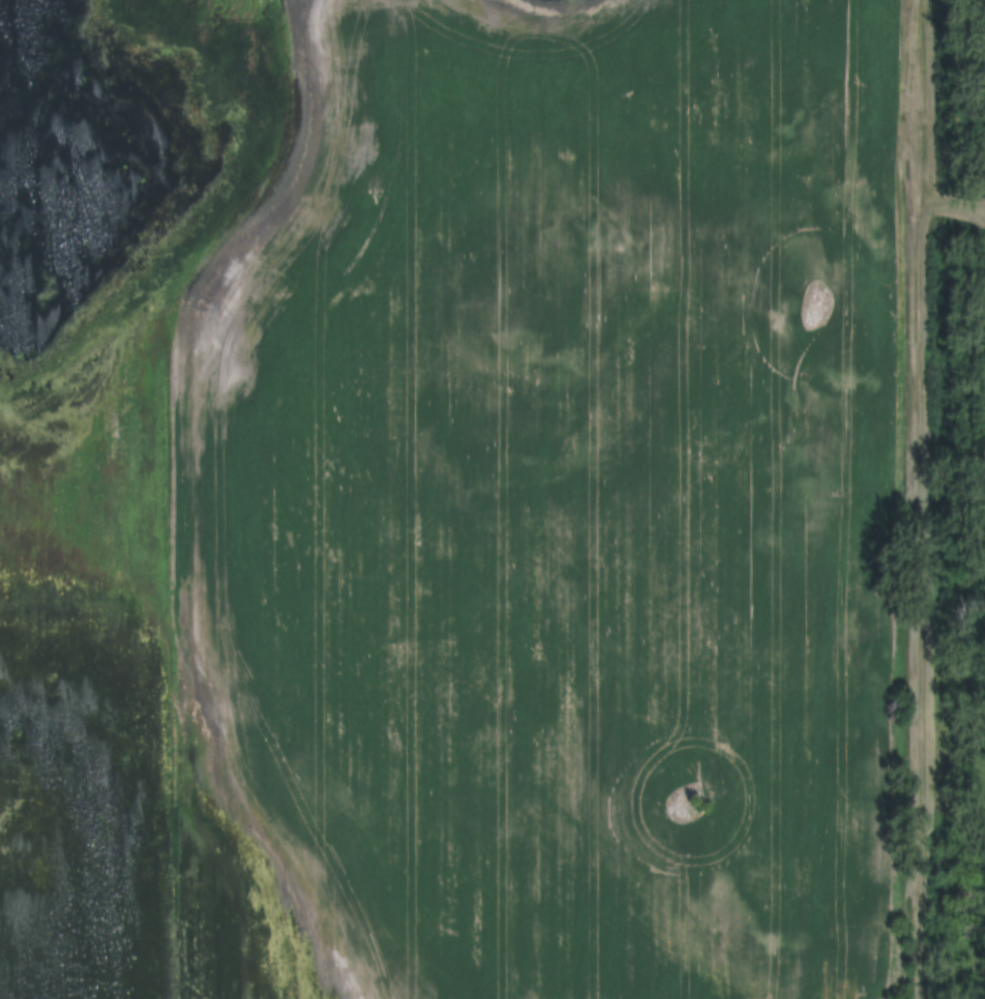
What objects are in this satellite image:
road: (914, 499)

